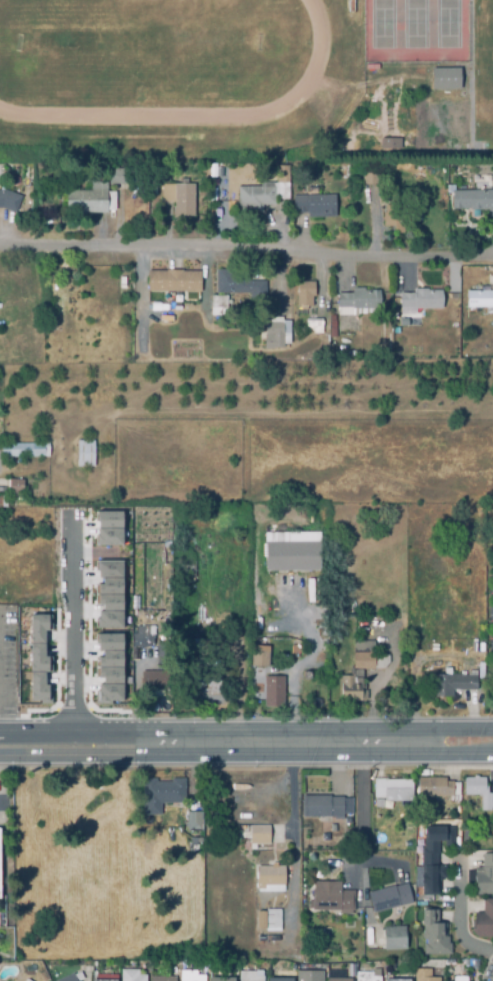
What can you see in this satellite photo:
building: (349, 7)
park: (382, 23)
park: (447, 23)
park: (414, 24)
park: (139, 50)
track: (315, 62)
building: (444, 77)
park: (198, 84)
building: (390, 142)
building: (370, 177)
building: (152, 190)
building: (93, 192)
building: (255, 196)
building: (179, 197)
building: (217, 199)
building: (472, 199)
building: (8, 200)
building: (313, 204)
building: (204, 217)
building: (394, 219)
road: (377, 228)
building: (491, 228)
road: (246, 251)
road: (325, 279)
road: (208, 281)
building: (173, 283)
building: (238, 285)
building: (106, 289)
building: (304, 295)
building: (422, 297)
road: (144, 299)
building: (480, 300)
building: (358, 303)
building: (217, 307)
building: (409, 319)
building: (314, 327)
building: (276, 334)
building: (23, 449)
building: (84, 452)
building: (14, 485)
building: (2, 500)
building: (107, 526)
building: (293, 555)
building: (189, 572)
building: (106, 592)
road: (71, 620)
building: (146, 636)
building: (196, 643)
building: (37, 656)
building: (261, 659)
road: (307, 659)
building: (107, 668)
building: (361, 672)
building: (307, 676)
building: (205, 682)
building: (154, 683)
building: (448, 684)
building: (275, 693)
road: (135, 700)
road: (488, 710)
road: (57, 730)
road: (303, 740)
road: (57, 756)
road: (192, 773)
building: (441, 789)
building: (395, 790)
building: (480, 790)
building: (164, 796)
road: (2, 802)
building: (3, 802)
building: (324, 807)
road: (364, 809)
building: (453, 817)
building: (196, 822)
building: (468, 834)
building: (262, 835)
building: (196, 846)
building: (464, 850)
building: (433, 856)
road: (293, 859)
road: (387, 862)
building: (484, 875)
building: (272, 878)
road: (274, 892)
building: (389, 897)
building: (333, 898)
road: (464, 913)
building: (270, 919)
building: (483, 920)
building: (308, 935)
building: (433, 935)
building: (393, 937)
building: (308, 950)
building: (182, 962)
building: (293, 966)
building: (130, 975)
building: (249, 975)
building: (308, 975)
building: (424, 975)
building: (189, 976)
building: (365, 976)
building: (70, 977)
building: (162, 978)
building: (278, 978)
building: (460, 978)
building: (103, 979)
building: (220, 979)
building: (337, 979)
building: (396, 979)
building: (27, 980)

